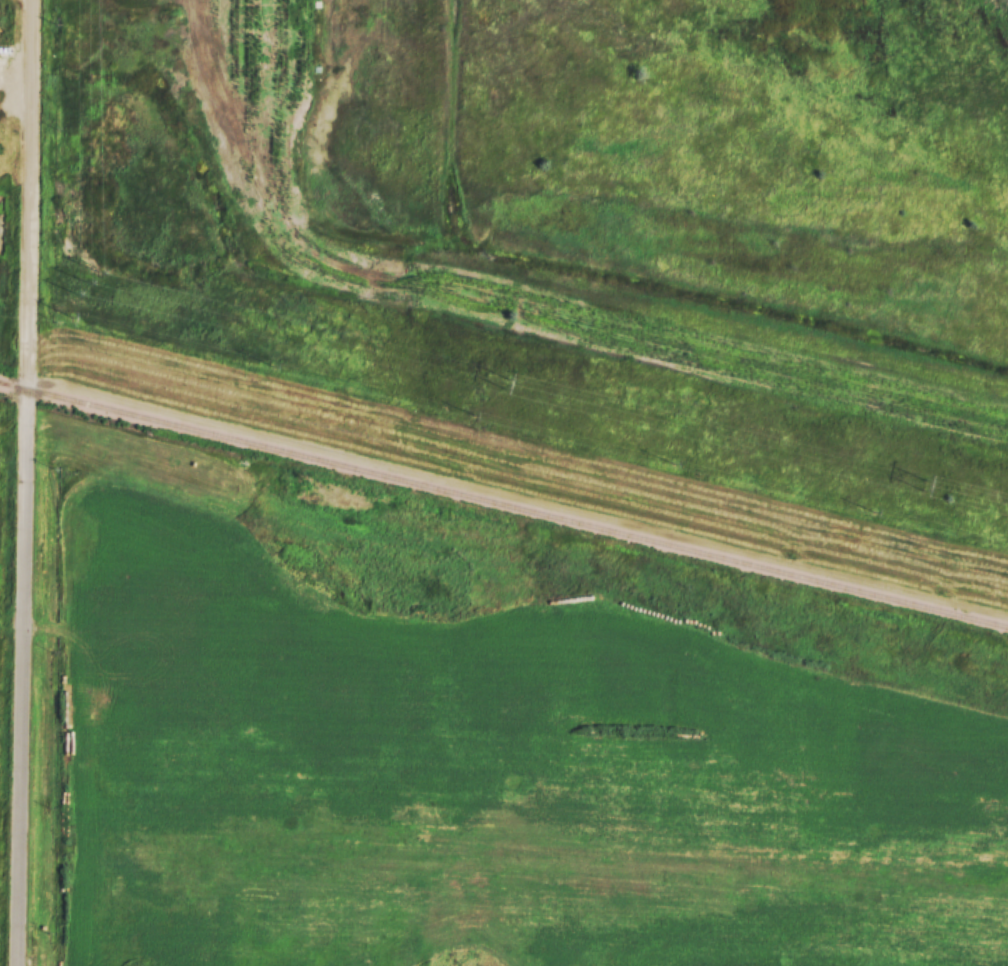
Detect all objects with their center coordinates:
building: (272, 11)
road: (335, 67)
building: (272, 69)
power tower: (87, 281)
power tower: (504, 384)
road: (23, 483)
power tower: (923, 486)
railway: (503, 505)

